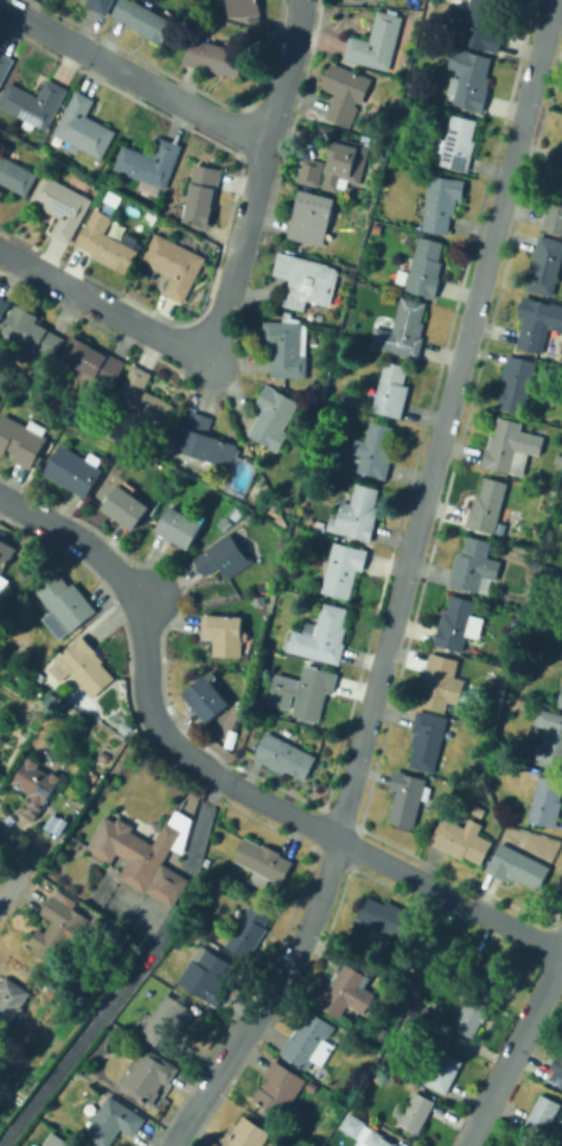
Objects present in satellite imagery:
building: (359, 0)
building: (100, 5)
building: (243, 8)
building: (143, 20)
building: (483, 26)
building: (376, 43)
building: (215, 57)
building: (5, 65)
road: (281, 72)
road: (132, 74)
building: (472, 82)
building: (345, 93)
building: (33, 103)
building: (84, 127)
building: (458, 144)
building: (560, 161)
building: (344, 164)
building: (149, 165)
building: (311, 172)
building: (15, 176)
road: (254, 183)
building: (202, 195)
building: (442, 203)
building: (62, 205)
building: (554, 209)
building: (338, 215)
building: (312, 218)
building: (108, 248)
building: (294, 248)
building: (307, 248)
building: (347, 253)
building: (174, 263)
building: (545, 266)
building: (426, 268)
building: (306, 280)
road: (228, 285)
road: (100, 303)
building: (4, 306)
building: (538, 325)
building: (402, 331)
building: (32, 332)
building: (287, 348)
building: (92, 361)
building: (516, 383)
building: (391, 390)
building: (351, 399)
building: (141, 401)
building: (273, 416)
building: (20, 441)
building: (205, 443)
building: (510, 447)
building: (375, 450)
building: (557, 469)
building: (74, 470)
building: (241, 477)
building: (529, 479)
building: (127, 505)
building: (487, 505)
building: (236, 515)
building: (357, 515)
building: (224, 524)
building: (181, 527)
building: (6, 554)
building: (224, 556)
building: (475, 566)
building: (343, 569)
road: (401, 588)
building: (65, 605)
building: (456, 624)
building: (224, 632)
building: (321, 636)
building: (561, 656)
building: (83, 667)
building: (441, 682)
building: (304, 692)
building: (206, 699)
building: (560, 701)
road: (161, 733)
building: (550, 734)
building: (427, 740)
building: (285, 756)
building: (0, 770)
building: (36, 788)
building: (407, 797)
building: (547, 802)
building: (478, 810)
building: (461, 840)
building: (145, 855)
building: (263, 862)
building: (517, 867)
road: (8, 890)
road: (497, 918)
building: (389, 919)
building: (59, 929)
building: (249, 930)
building: (116, 947)
building: (481, 970)
road: (134, 972)
building: (165, 976)
building: (207, 976)
building: (347, 983)
building: (11, 999)
building: (68, 1002)
building: (468, 1013)
building: (423, 1018)
building: (167, 1021)
building: (383, 1033)
building: (306, 1038)
road: (513, 1052)
building: (443, 1071)
building: (557, 1072)
building: (149, 1076)
building: (279, 1088)
building: (388, 1106)
building: (416, 1112)
building: (543, 1114)
building: (113, 1122)
building: (352, 1123)
building: (248, 1134)
building: (378, 1139)
building: (56, 1140)
building: (529, 1141)
building: (31, 1145)
building: (521, 1145)

